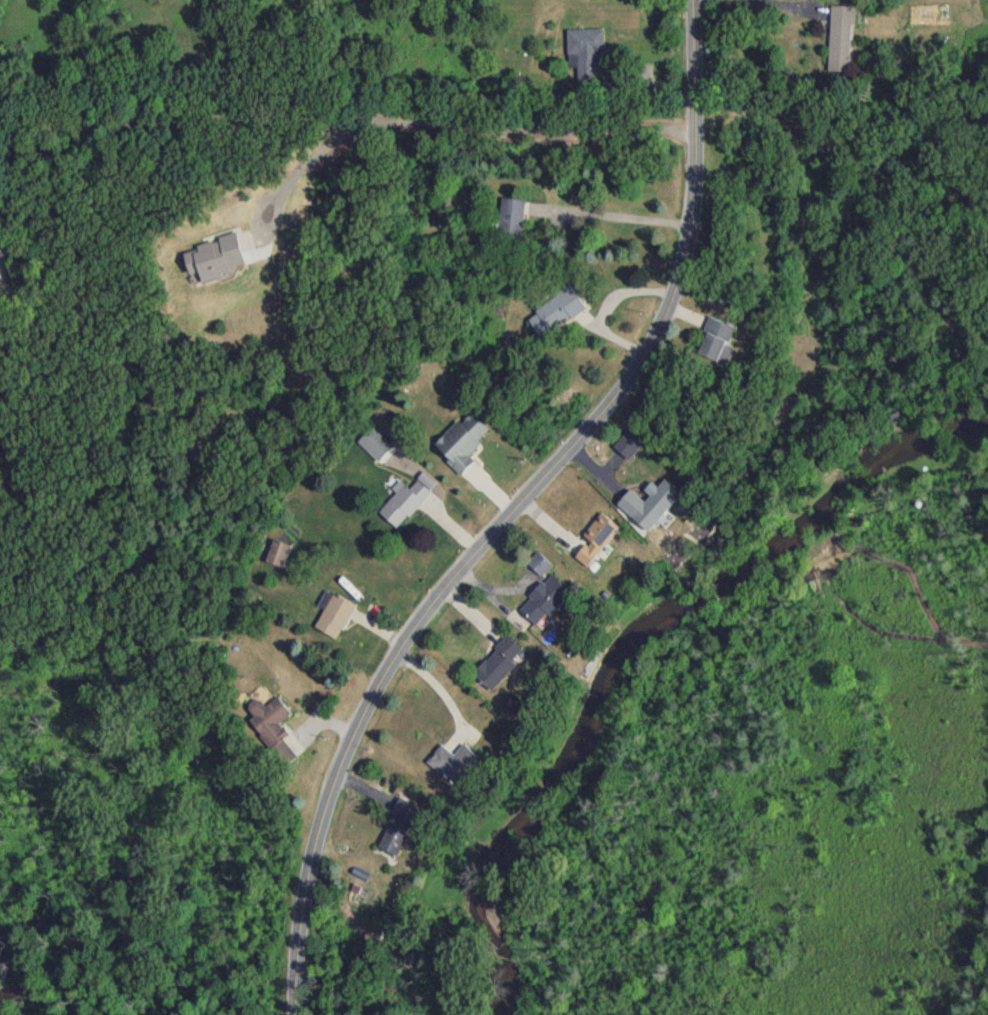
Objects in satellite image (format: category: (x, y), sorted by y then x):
building: (584, 0)
road: (774, 6)
building: (838, 43)
building: (583, 60)
road: (346, 123)
road: (296, 169)
road: (611, 218)
building: (506, 224)
building: (212, 261)
building: (552, 318)
building: (711, 347)
building: (457, 447)
building: (371, 450)
building: (400, 507)
road: (513, 510)
building: (655, 515)
building: (593, 546)
building: (273, 559)
building: (536, 569)
building: (541, 605)
building: (331, 620)
building: (494, 667)
building: (266, 726)
building: (449, 768)
building: (394, 831)

